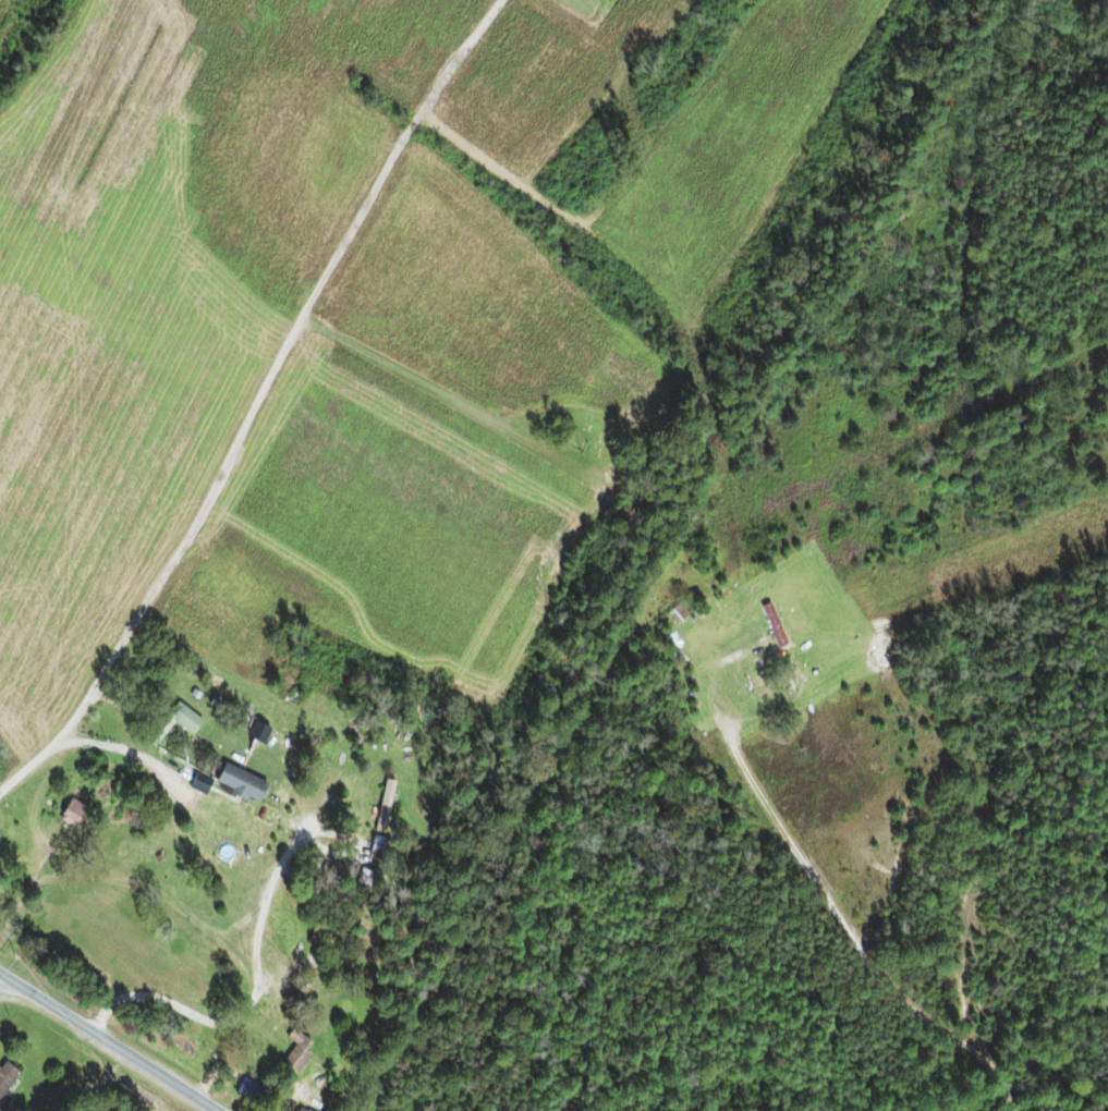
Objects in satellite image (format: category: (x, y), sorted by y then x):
road: (228, 456)
building: (673, 612)
road: (766, 654)
building: (187, 729)
road: (24, 777)
building: (73, 805)
building: (382, 806)
road: (851, 937)
road: (108, 1041)
building: (293, 1053)
building: (5, 1076)
building: (299, 1109)

